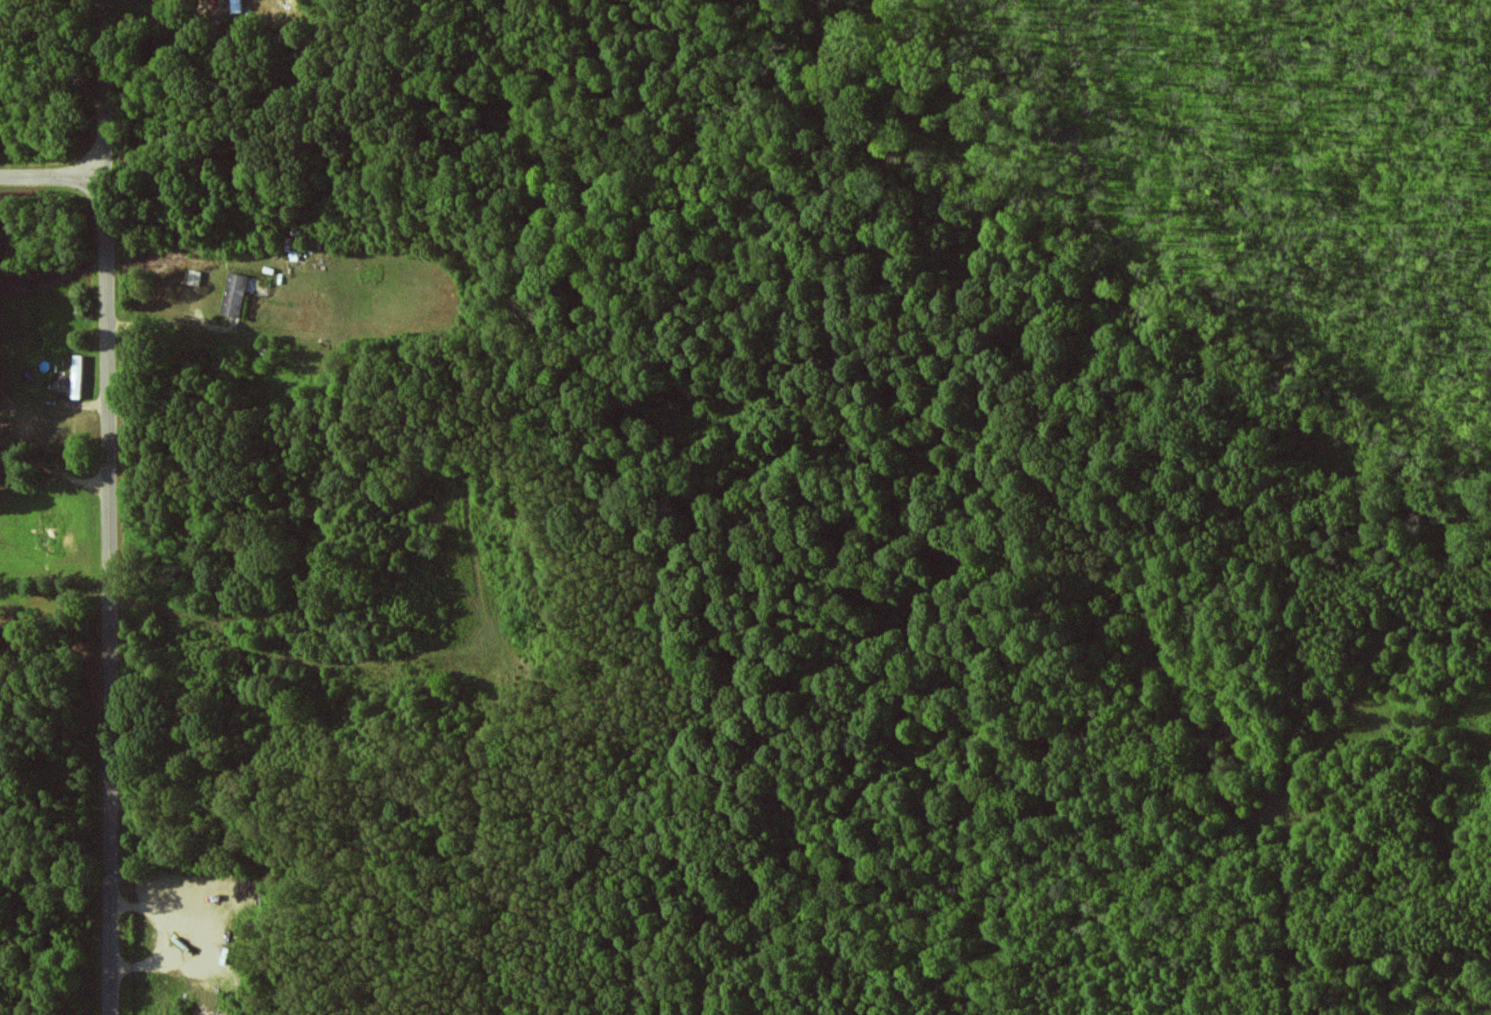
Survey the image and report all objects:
building: (236, 5)
road: (55, 177)
building: (195, 277)
building: (235, 294)
building: (71, 379)
road: (111, 507)

